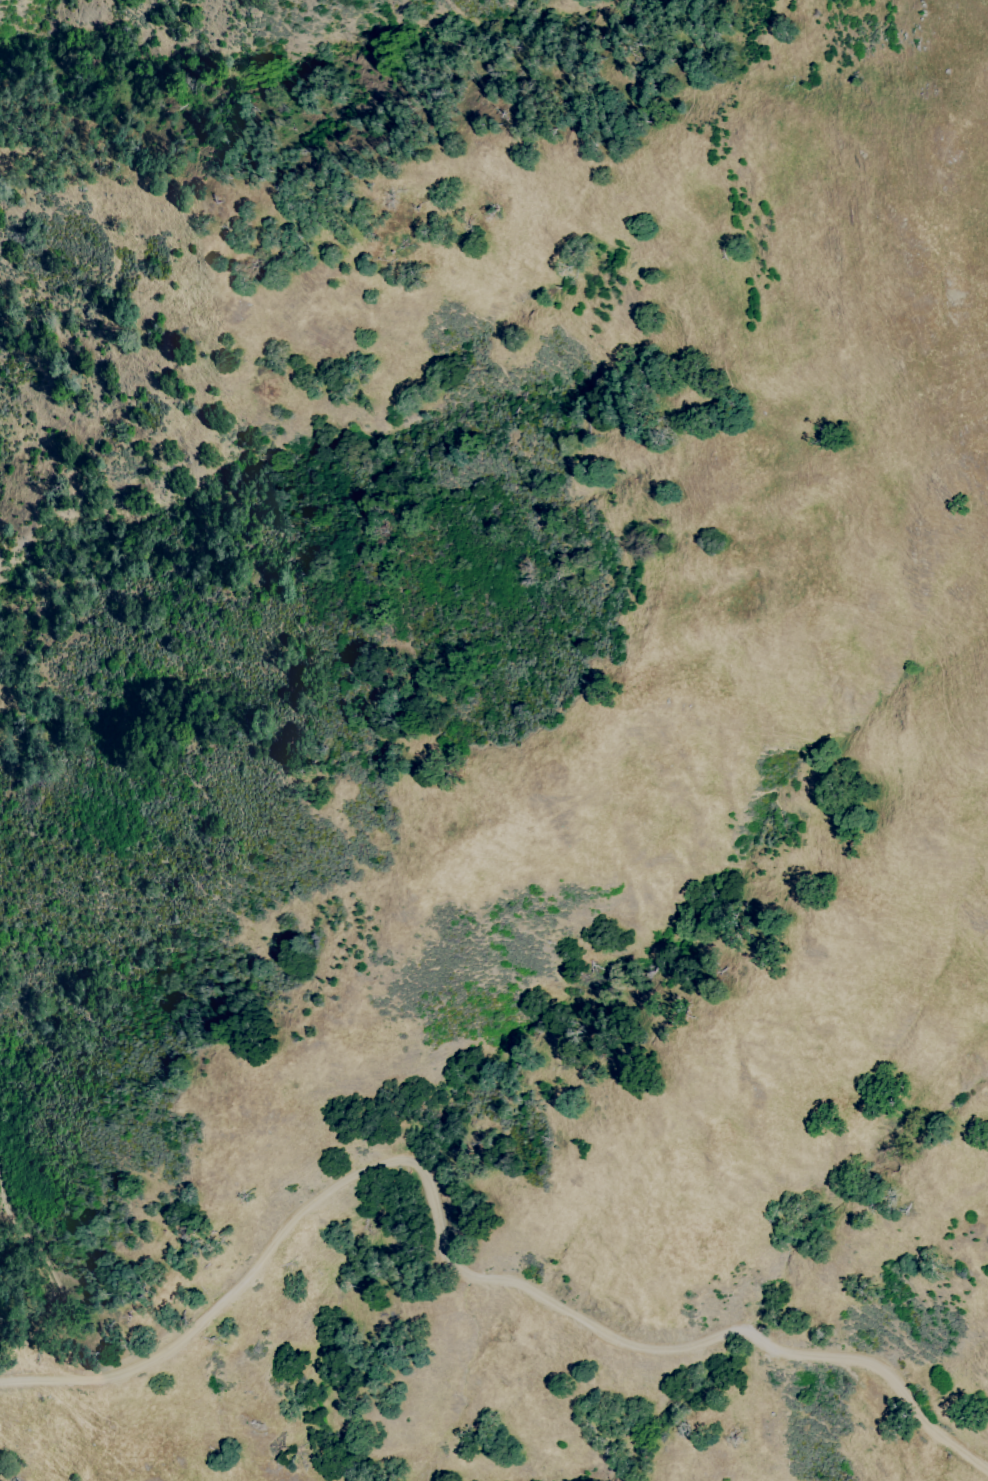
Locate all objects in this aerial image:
road: (470, 1270)

